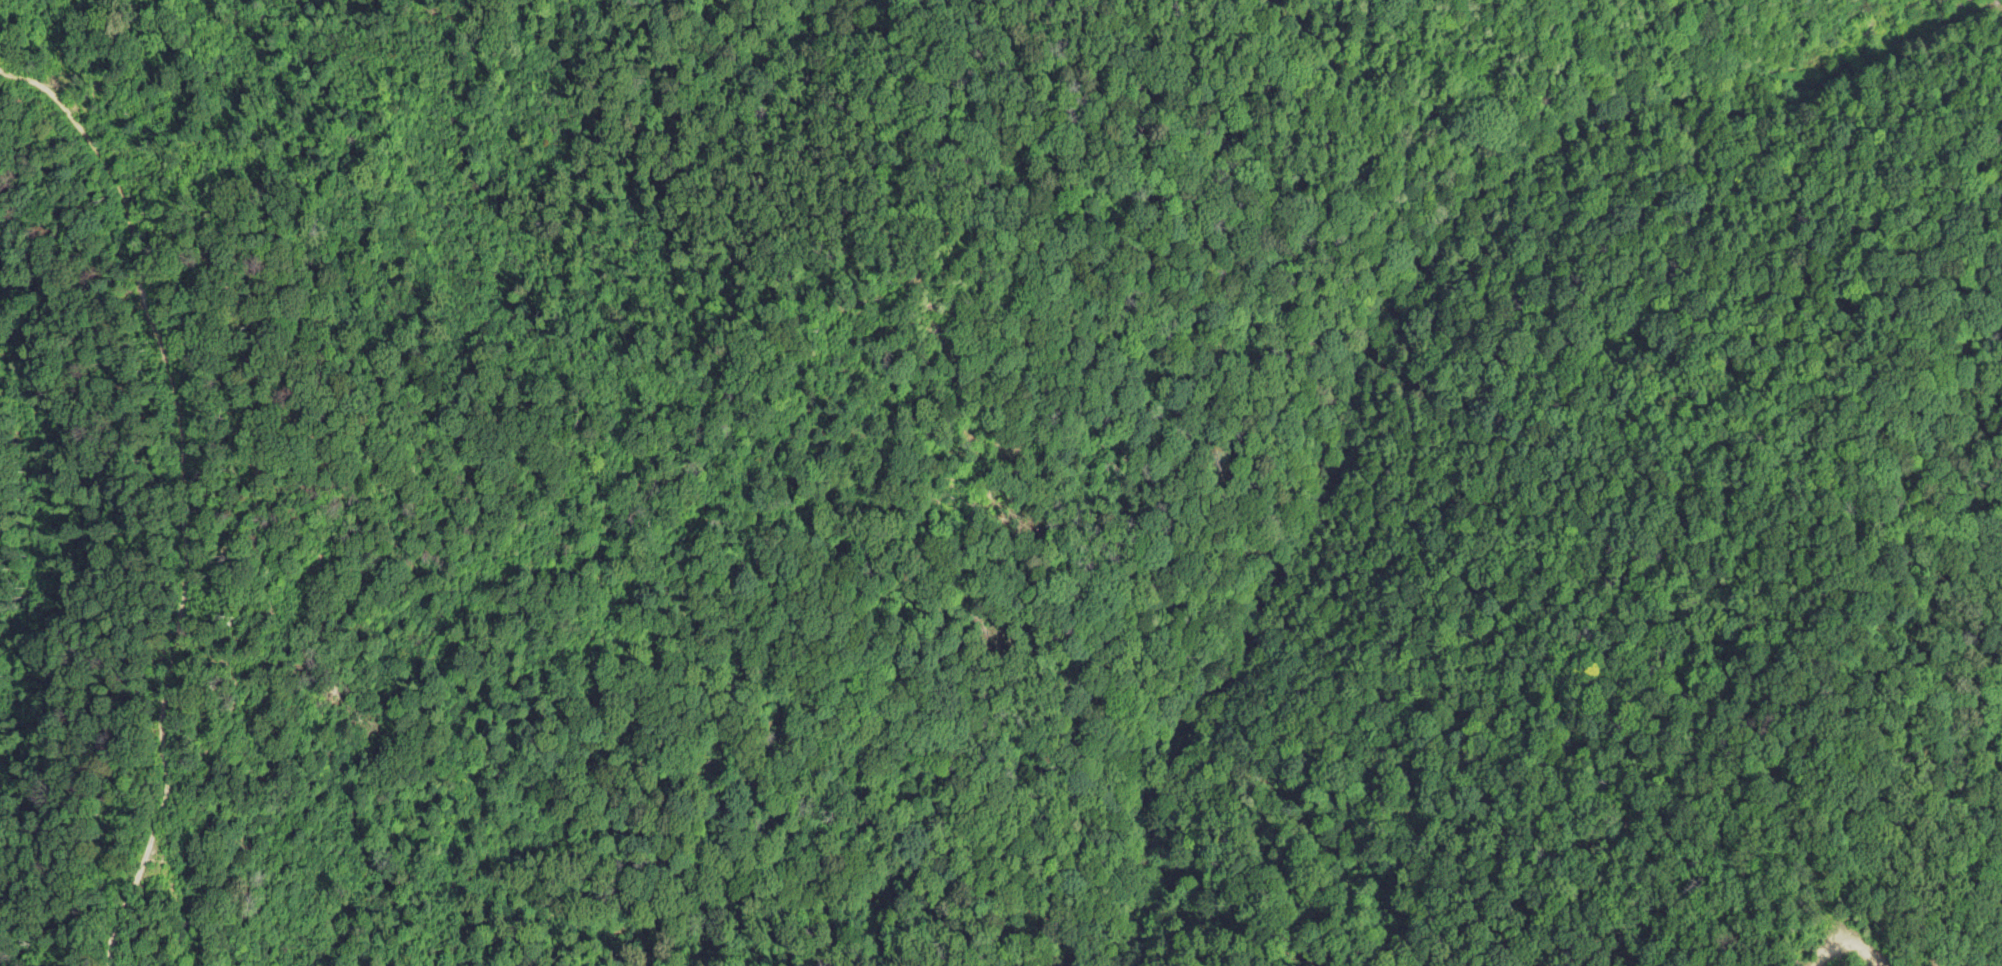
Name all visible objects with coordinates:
building: (1927, 1)
road: (1971, 10)

